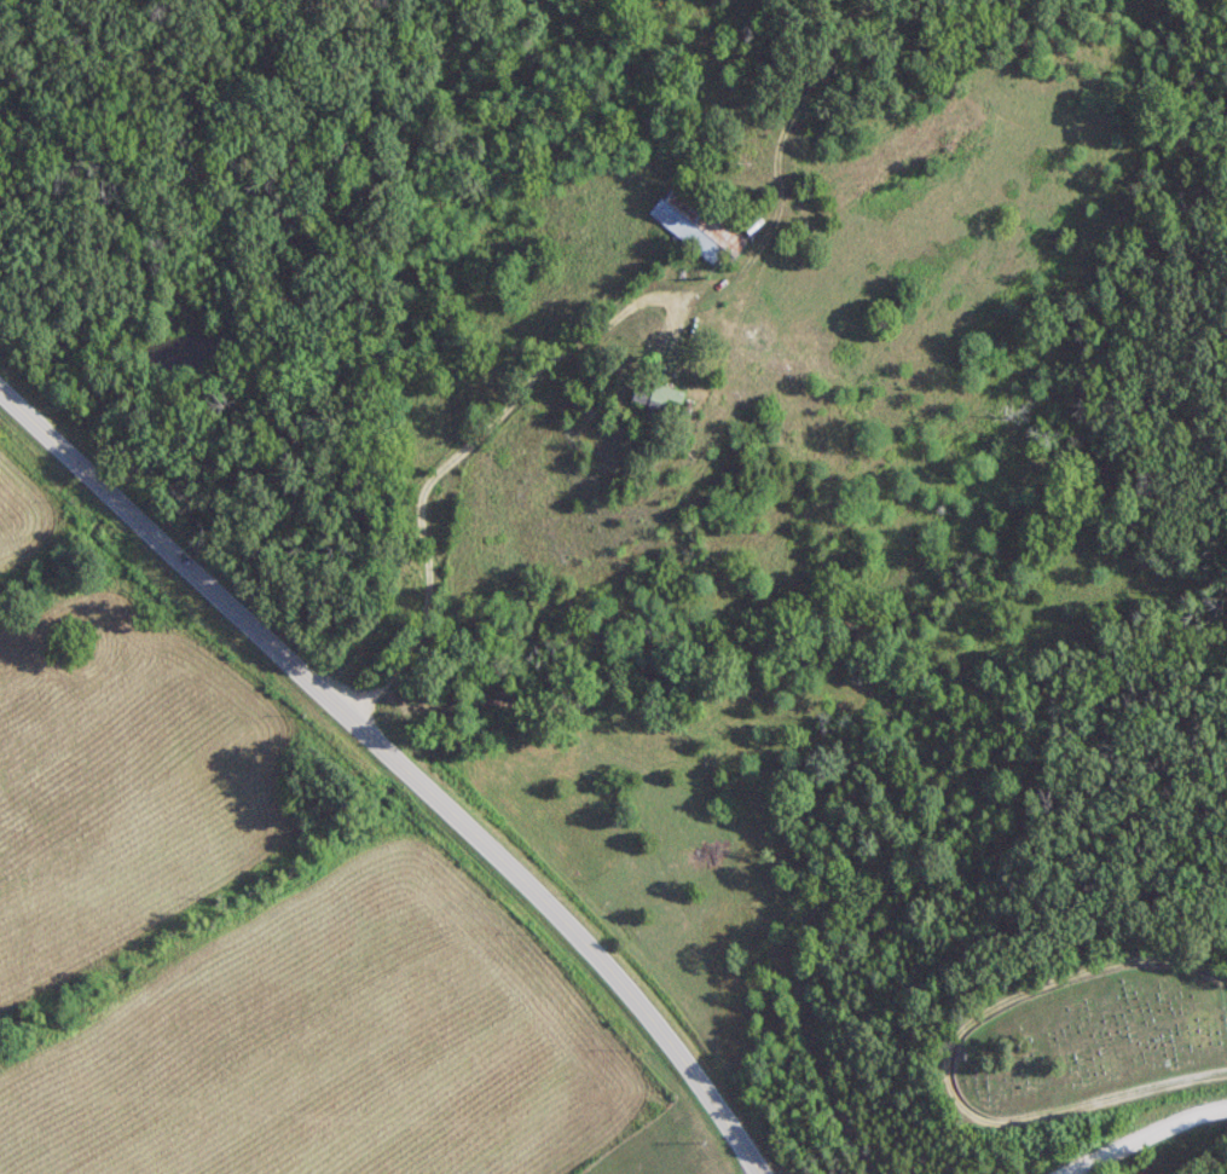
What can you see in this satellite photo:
building: (904, 150)
building: (696, 224)
building: (659, 395)
road: (478, 429)
road: (399, 761)
park: (1076, 1039)
road: (1144, 1133)

